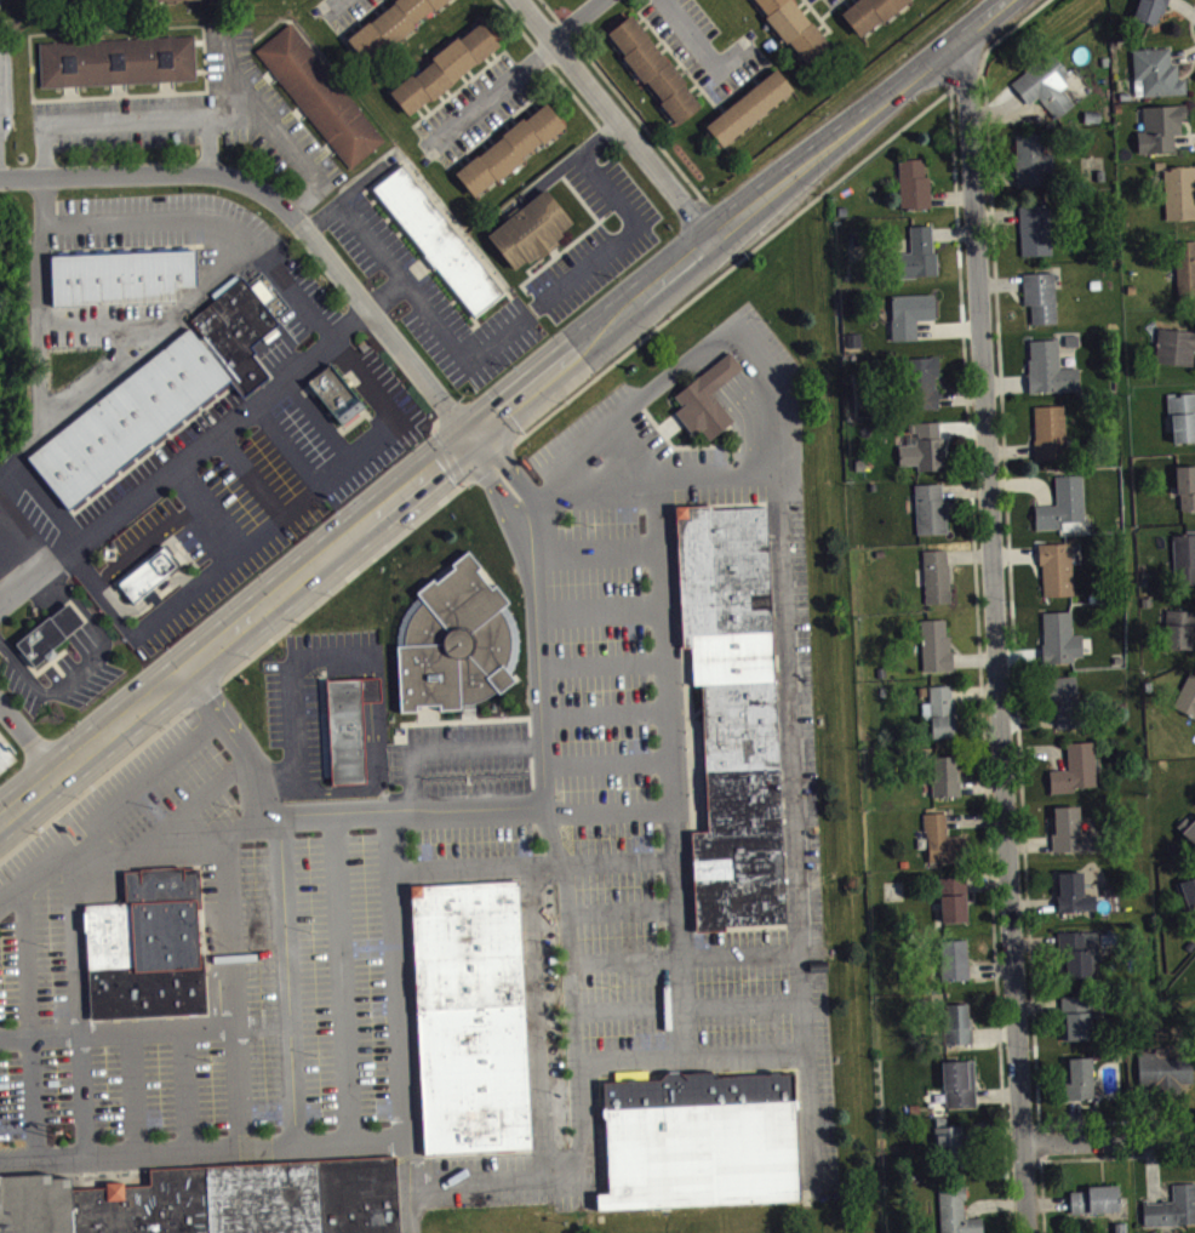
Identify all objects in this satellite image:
building: (281, 0)
building: (76, 1)
building: (185, 4)
building: (2, 6)
building: (870, 13)
building: (1154, 15)
building: (390, 24)
building: (794, 27)
road: (692, 33)
building: (116, 59)
building: (444, 67)
building: (653, 68)
road: (524, 70)
building: (1160, 80)
building: (1050, 93)
building: (320, 95)
building: (749, 107)
road: (614, 122)
building: (1163, 136)
building: (509, 149)
building: (1034, 169)
building: (916, 193)
building: (1180, 201)
road: (158, 217)
road: (630, 219)
building: (531, 229)
parking lot: (597, 234)
building: (1037, 238)
building: (436, 239)
road: (374, 244)
building: (920, 262)
building: (1187, 275)
building: (120, 276)
parking lot: (429, 298)
building: (1042, 304)
building: (913, 322)
road: (145, 329)
building: (236, 331)
road: (447, 335)
road: (600, 335)
building: (1177, 355)
road: (690, 359)
road: (704, 360)
road: (716, 375)
building: (1052, 377)
building: (926, 390)
building: (336, 394)
building: (705, 399)
building: (127, 418)
road: (753, 424)
building: (1183, 426)
building: (1052, 440)
road: (634, 452)
parking lot: (278, 453)
road: (183, 455)
building: (925, 455)
parking lot: (640, 457)
building: (1187, 495)
building: (1065, 512)
building: (933, 516)
road: (600, 560)
building: (1185, 565)
building: (148, 573)
building: (1059, 577)
building: (939, 584)
road: (542, 589)
road: (604, 612)
building: (48, 633)
road: (999, 637)
building: (1179, 637)
building: (456, 640)
building: (1063, 646)
building: (938, 652)
road: (606, 666)
parking lot: (304, 696)
building: (1188, 706)
building: (1068, 710)
road: (607, 712)
building: (731, 715)
building: (945, 719)
building: (344, 731)
road: (30, 741)
road: (242, 747)
road: (444, 748)
road: (92, 749)
parking lot: (520, 754)
road: (793, 754)
road: (610, 763)
road: (671, 774)
building: (1077, 777)
building: (948, 783)
road: (122, 806)
road: (199, 806)
road: (532, 814)
road: (333, 823)
building: (1189, 837)
building: (1073, 839)
road: (165, 847)
building: (943, 847)
road: (536, 868)
building: (1074, 900)
road: (12, 901)
building: (1189, 903)
building: (956, 907)
road: (624, 914)
building: (147, 946)
road: (80, 949)
road: (690, 958)
building: (1082, 961)
road: (27, 965)
building: (957, 967)
road: (401, 978)
road: (344, 983)
road: (291, 987)
road: (234, 993)
road: (691, 1010)
building: (470, 1021)
building: (1079, 1026)
road: (159, 1032)
building: (960, 1032)
road: (56, 1037)
road: (15, 1039)
building: (1166, 1078)
building: (1082, 1088)
road: (187, 1092)
building: (962, 1092)
road: (135, 1094)
road: (85, 1097)
road: (33, 1100)
road: (355, 1142)
building: (698, 1143)
building: (950, 1147)
road: (1110, 1148)
road: (193, 1152)
road: (61, 1160)
road: (17, 1163)
road: (110, 1171)
road: (412, 1186)
building: (217, 1200)
building: (1098, 1208)
road: (112, 1209)
building: (957, 1216)
building: (1173, 1216)

